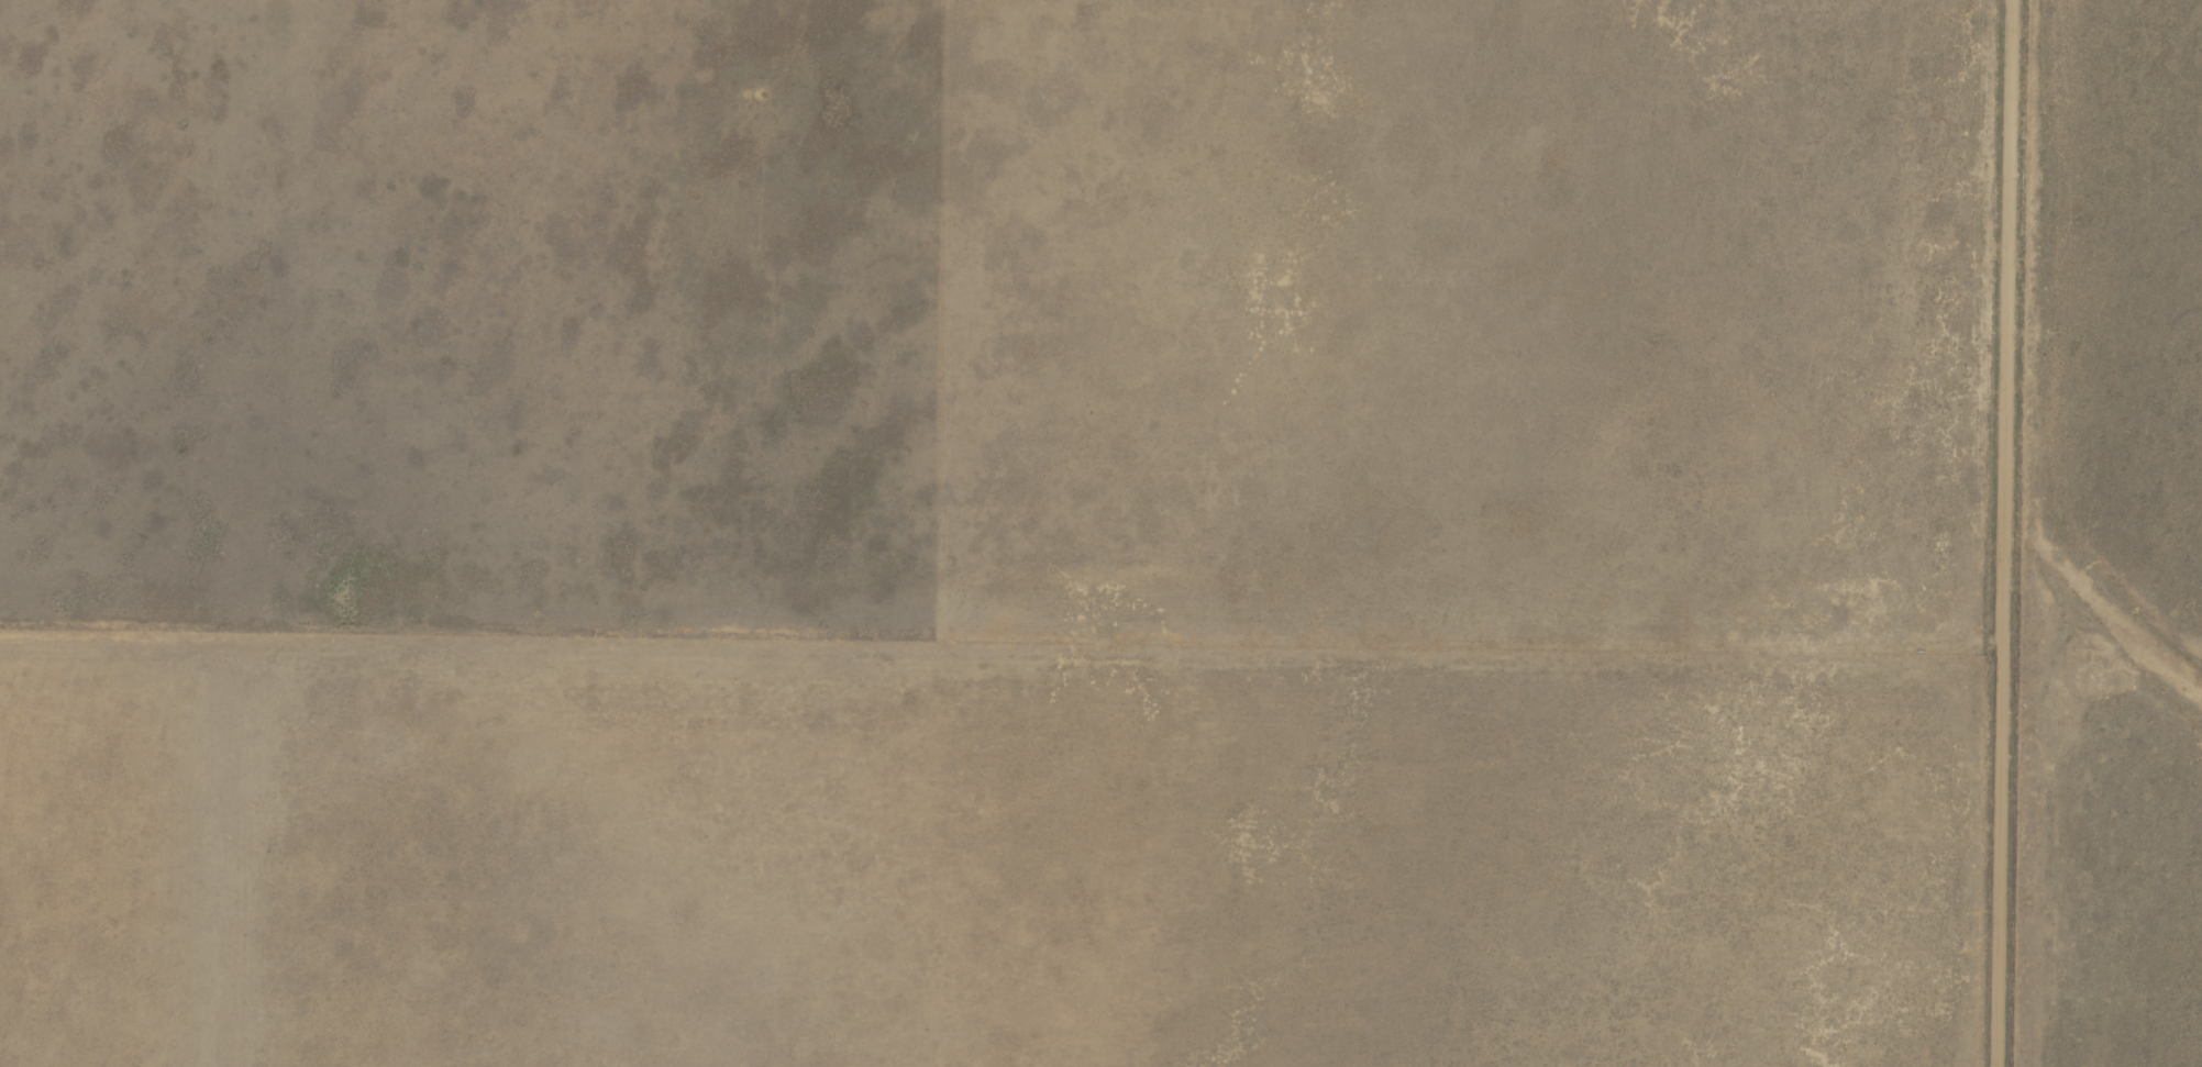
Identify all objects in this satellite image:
road: (2009, 533)

